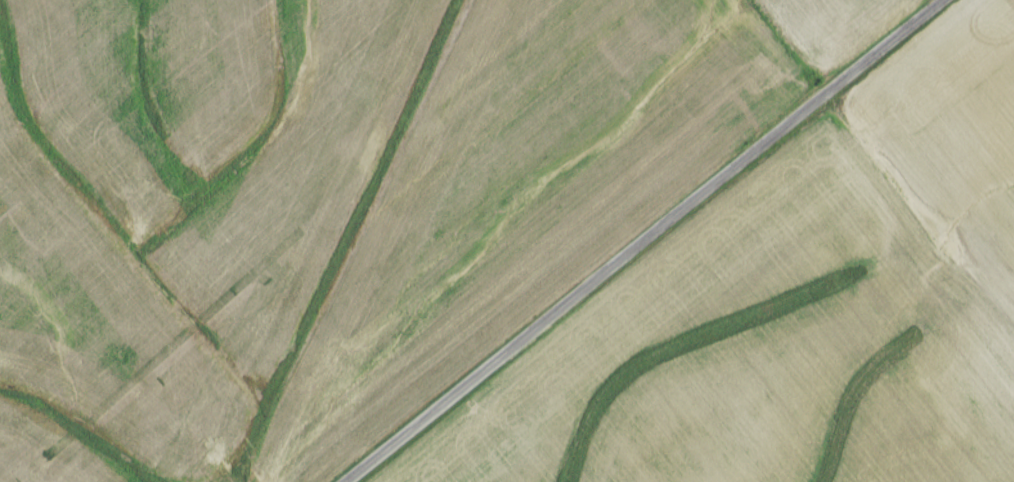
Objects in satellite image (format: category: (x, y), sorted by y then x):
road: (641, 241)

